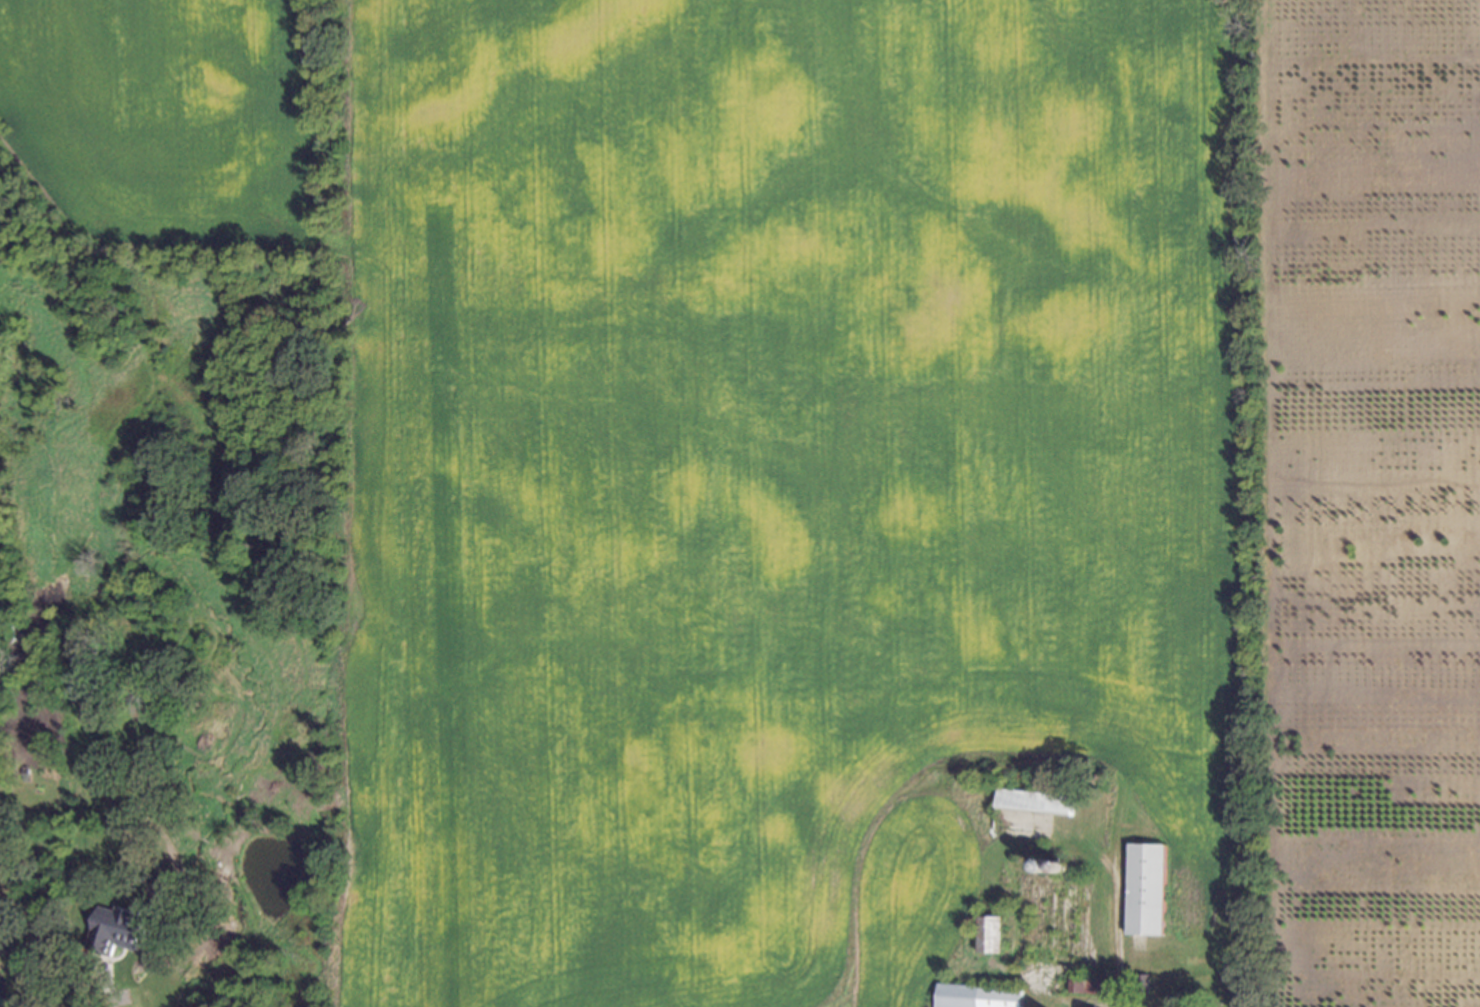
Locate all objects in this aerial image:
building: (1031, 801)
building: (1042, 864)
building: (1057, 864)
building: (1142, 890)
building: (1050, 922)
building: (116, 929)
road: (1112, 933)
building: (989, 935)
building: (1161, 961)
road: (103, 984)
building: (1138, 984)
building: (1084, 985)
building: (973, 996)

